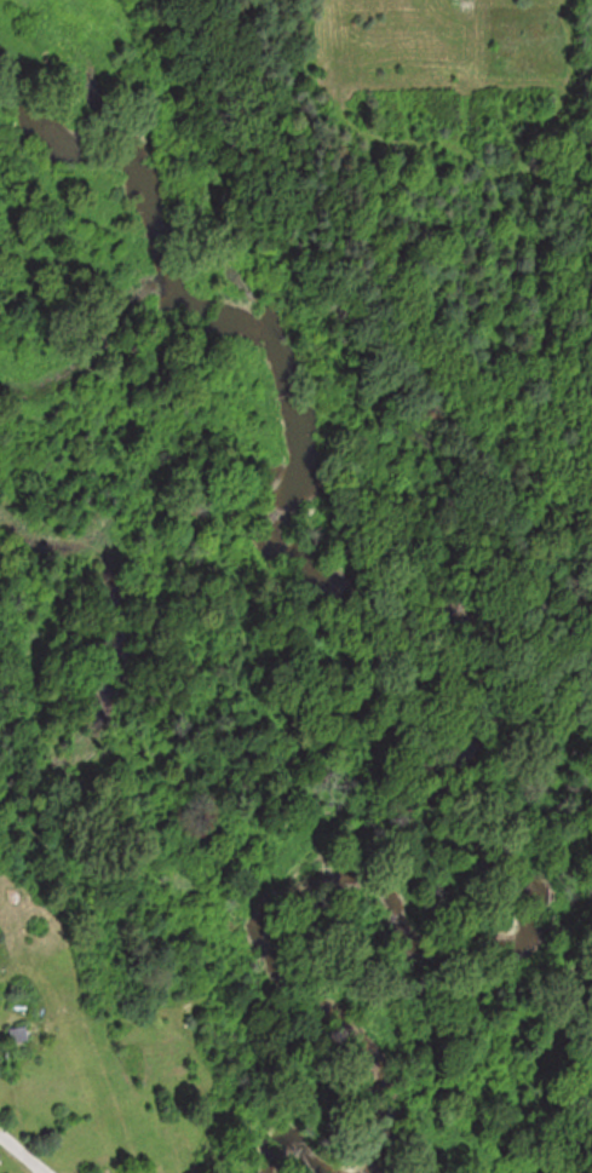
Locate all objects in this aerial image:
building: (21, 1036)
road: (15, 1157)

